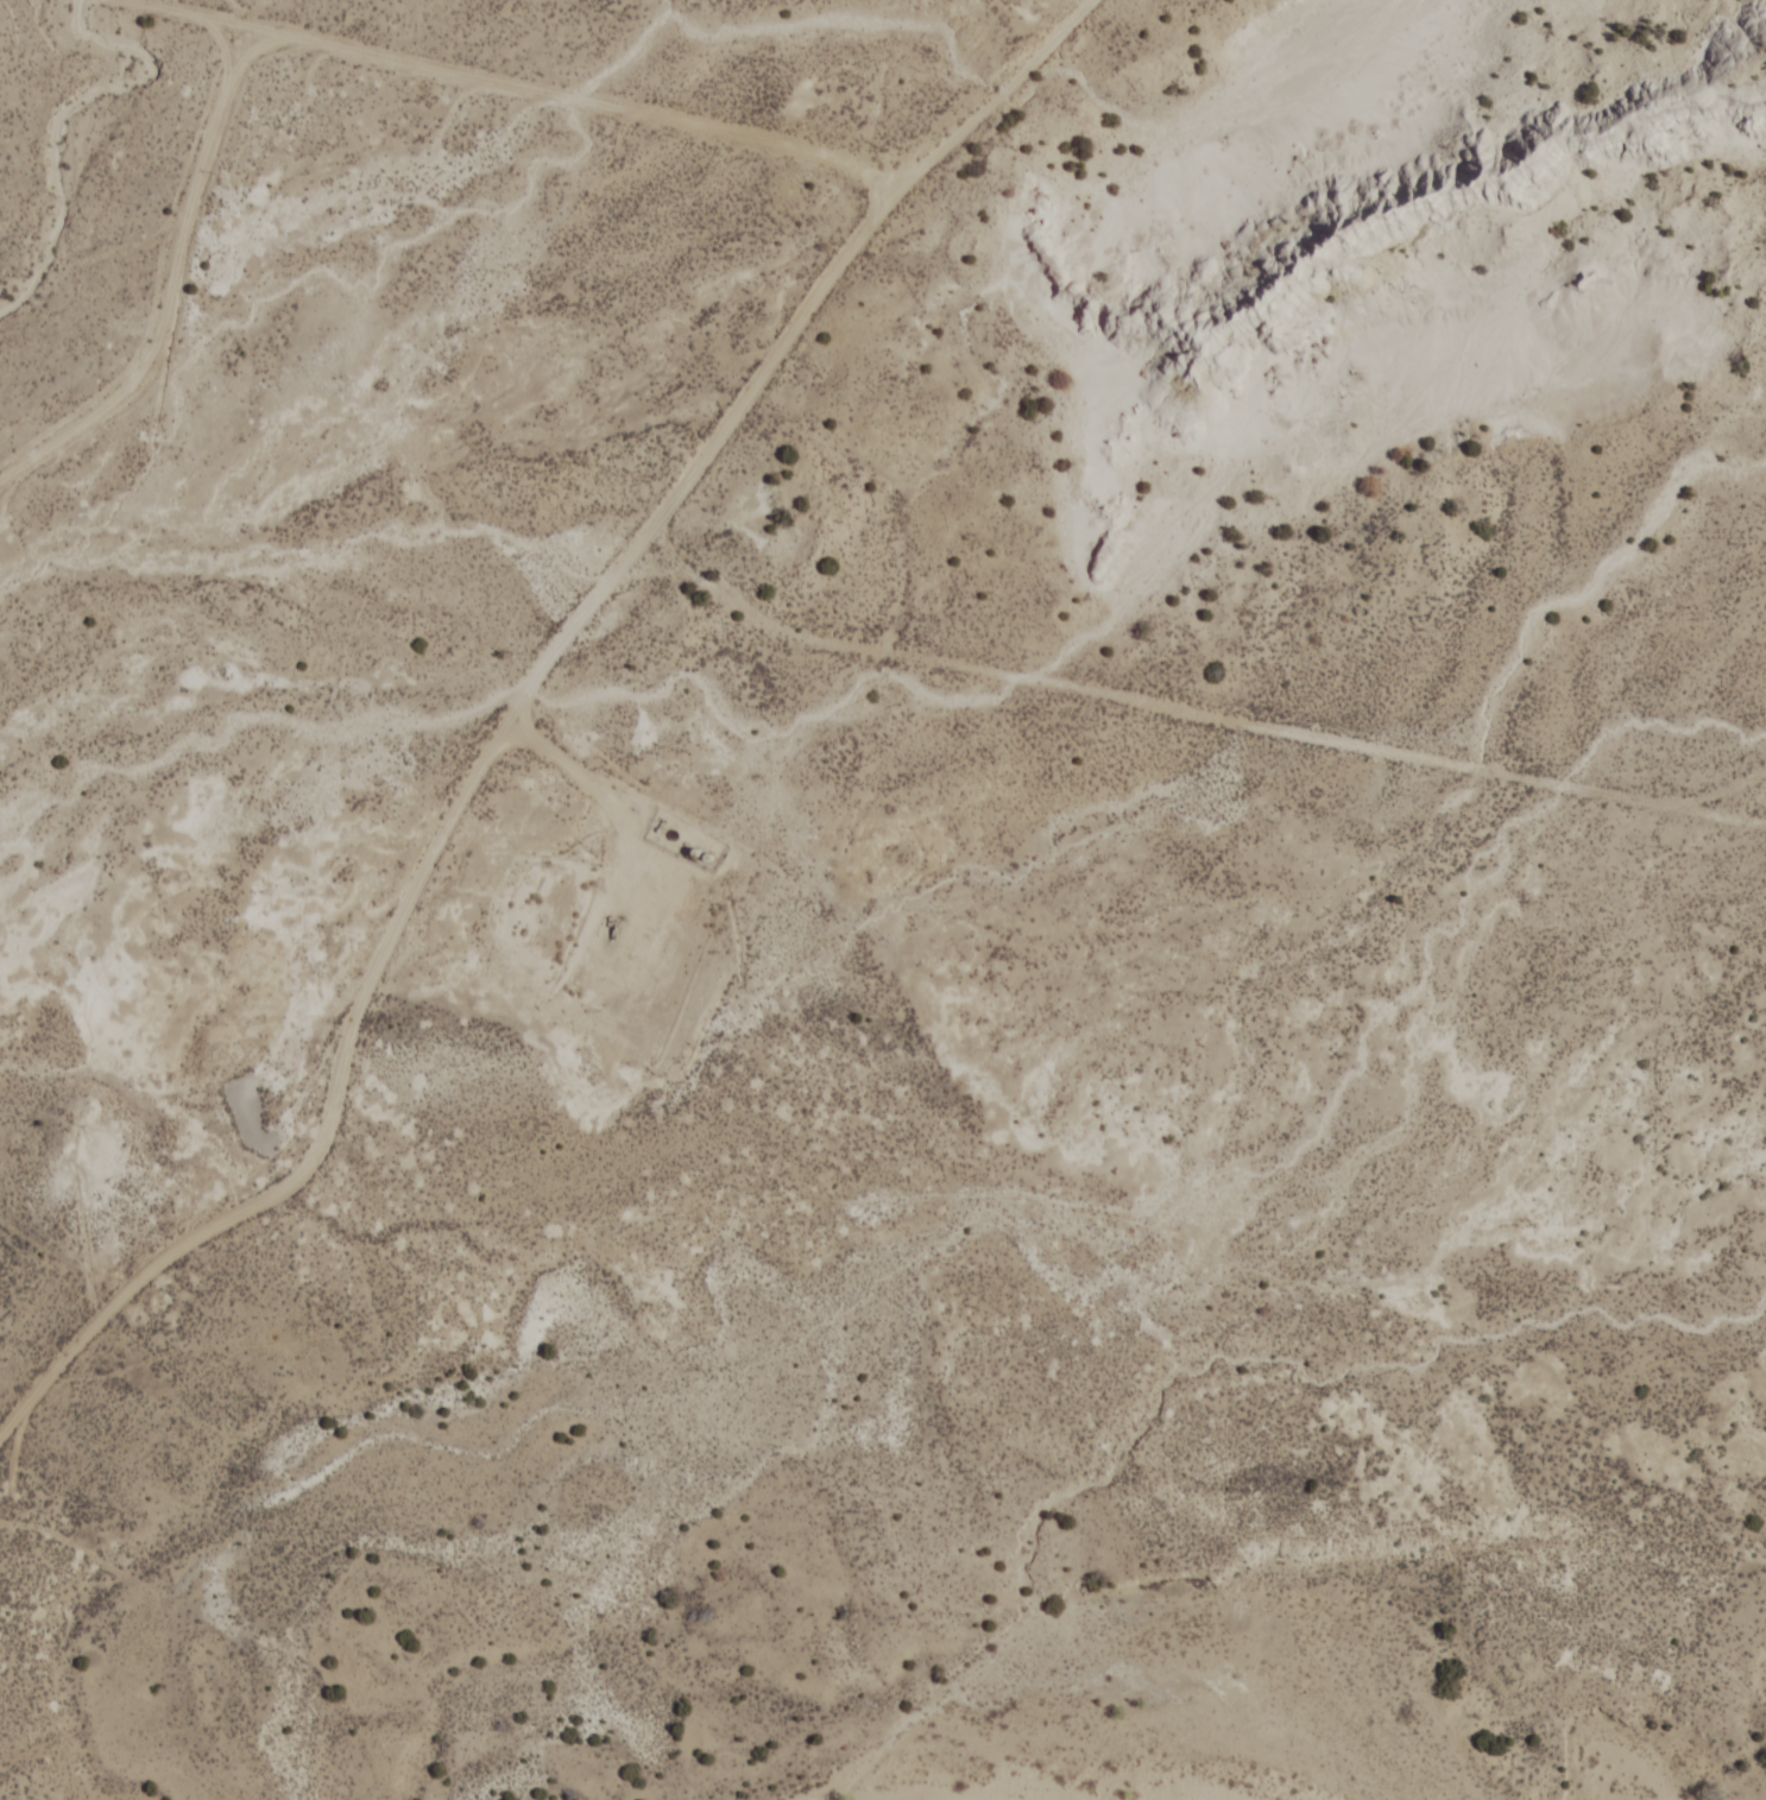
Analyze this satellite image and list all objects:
road: (525, 687)

